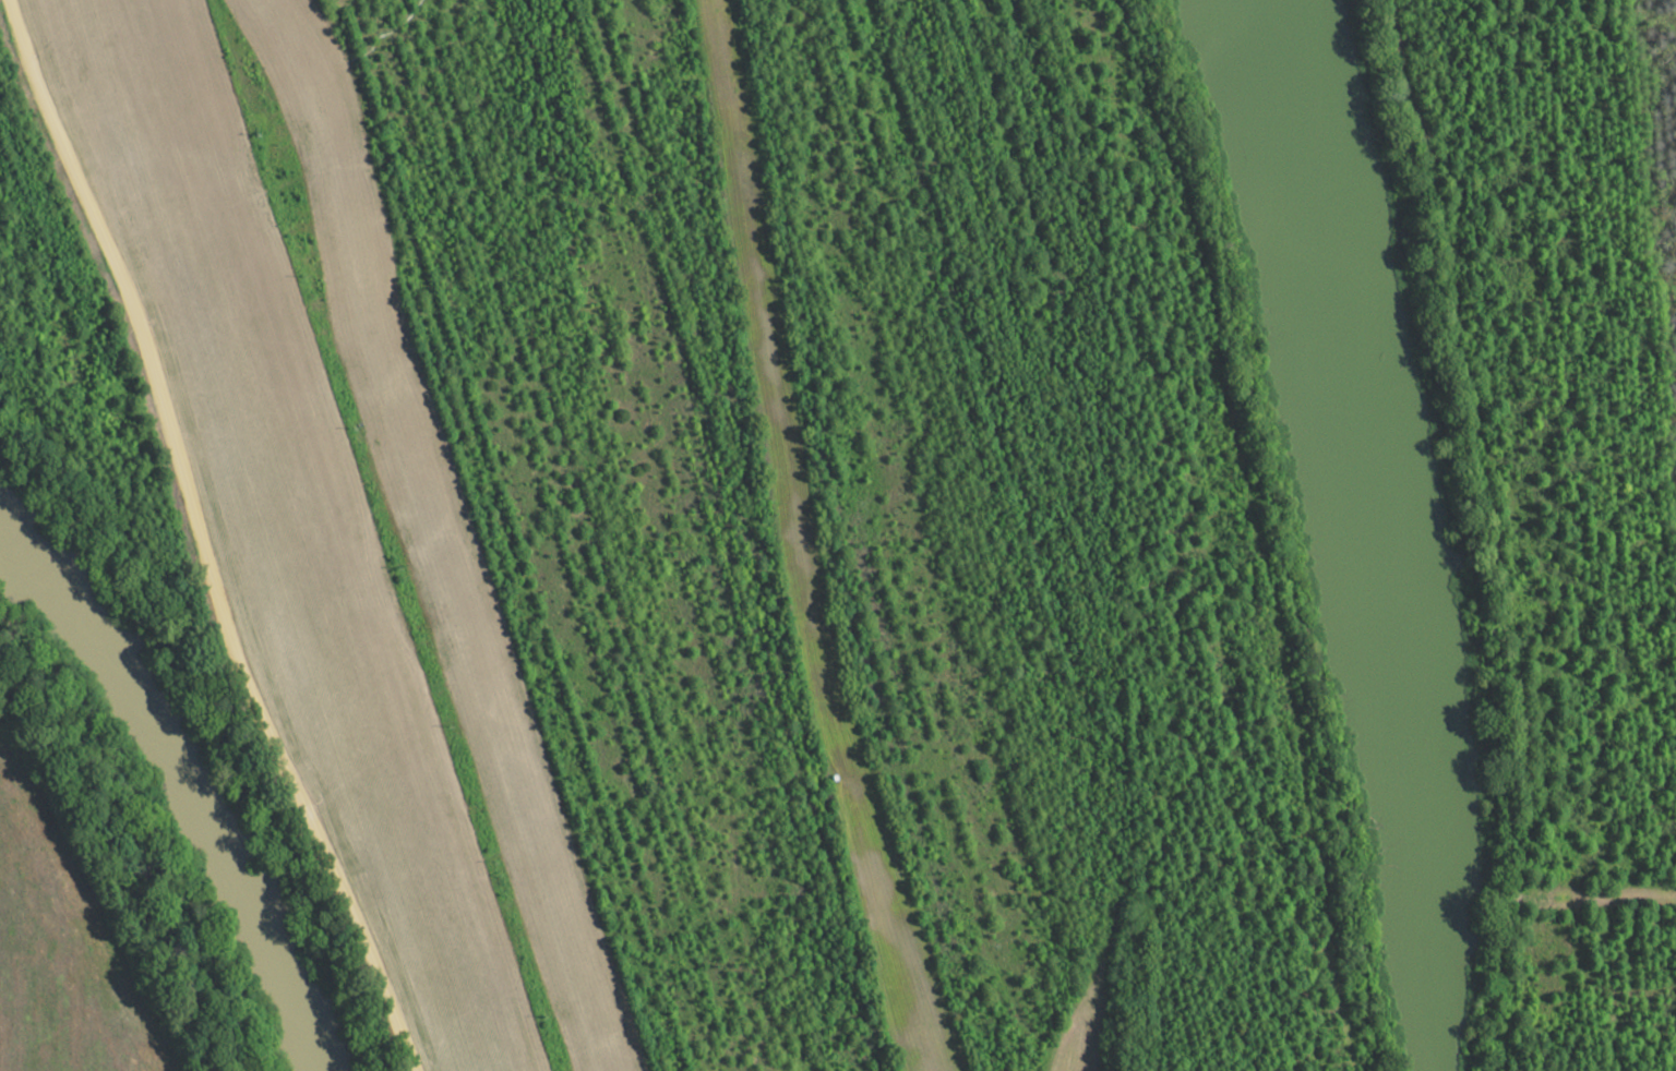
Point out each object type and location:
road: (200, 538)
river: (180, 779)

